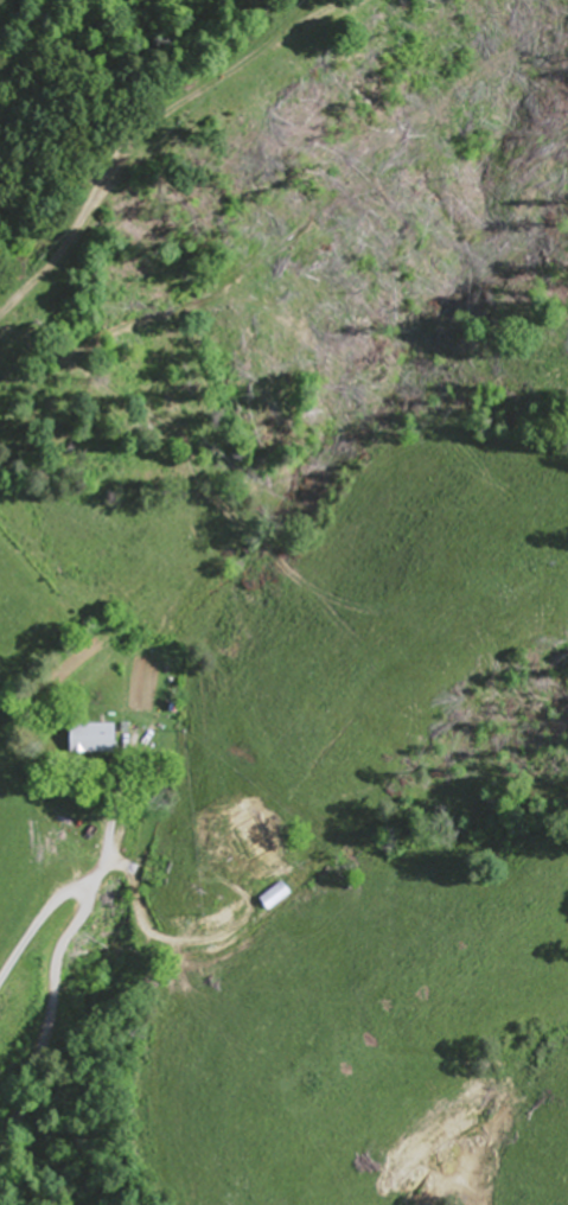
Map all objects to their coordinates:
building: (91, 739)
building: (256, 848)
building: (274, 897)
road: (56, 956)
road: (6, 976)

